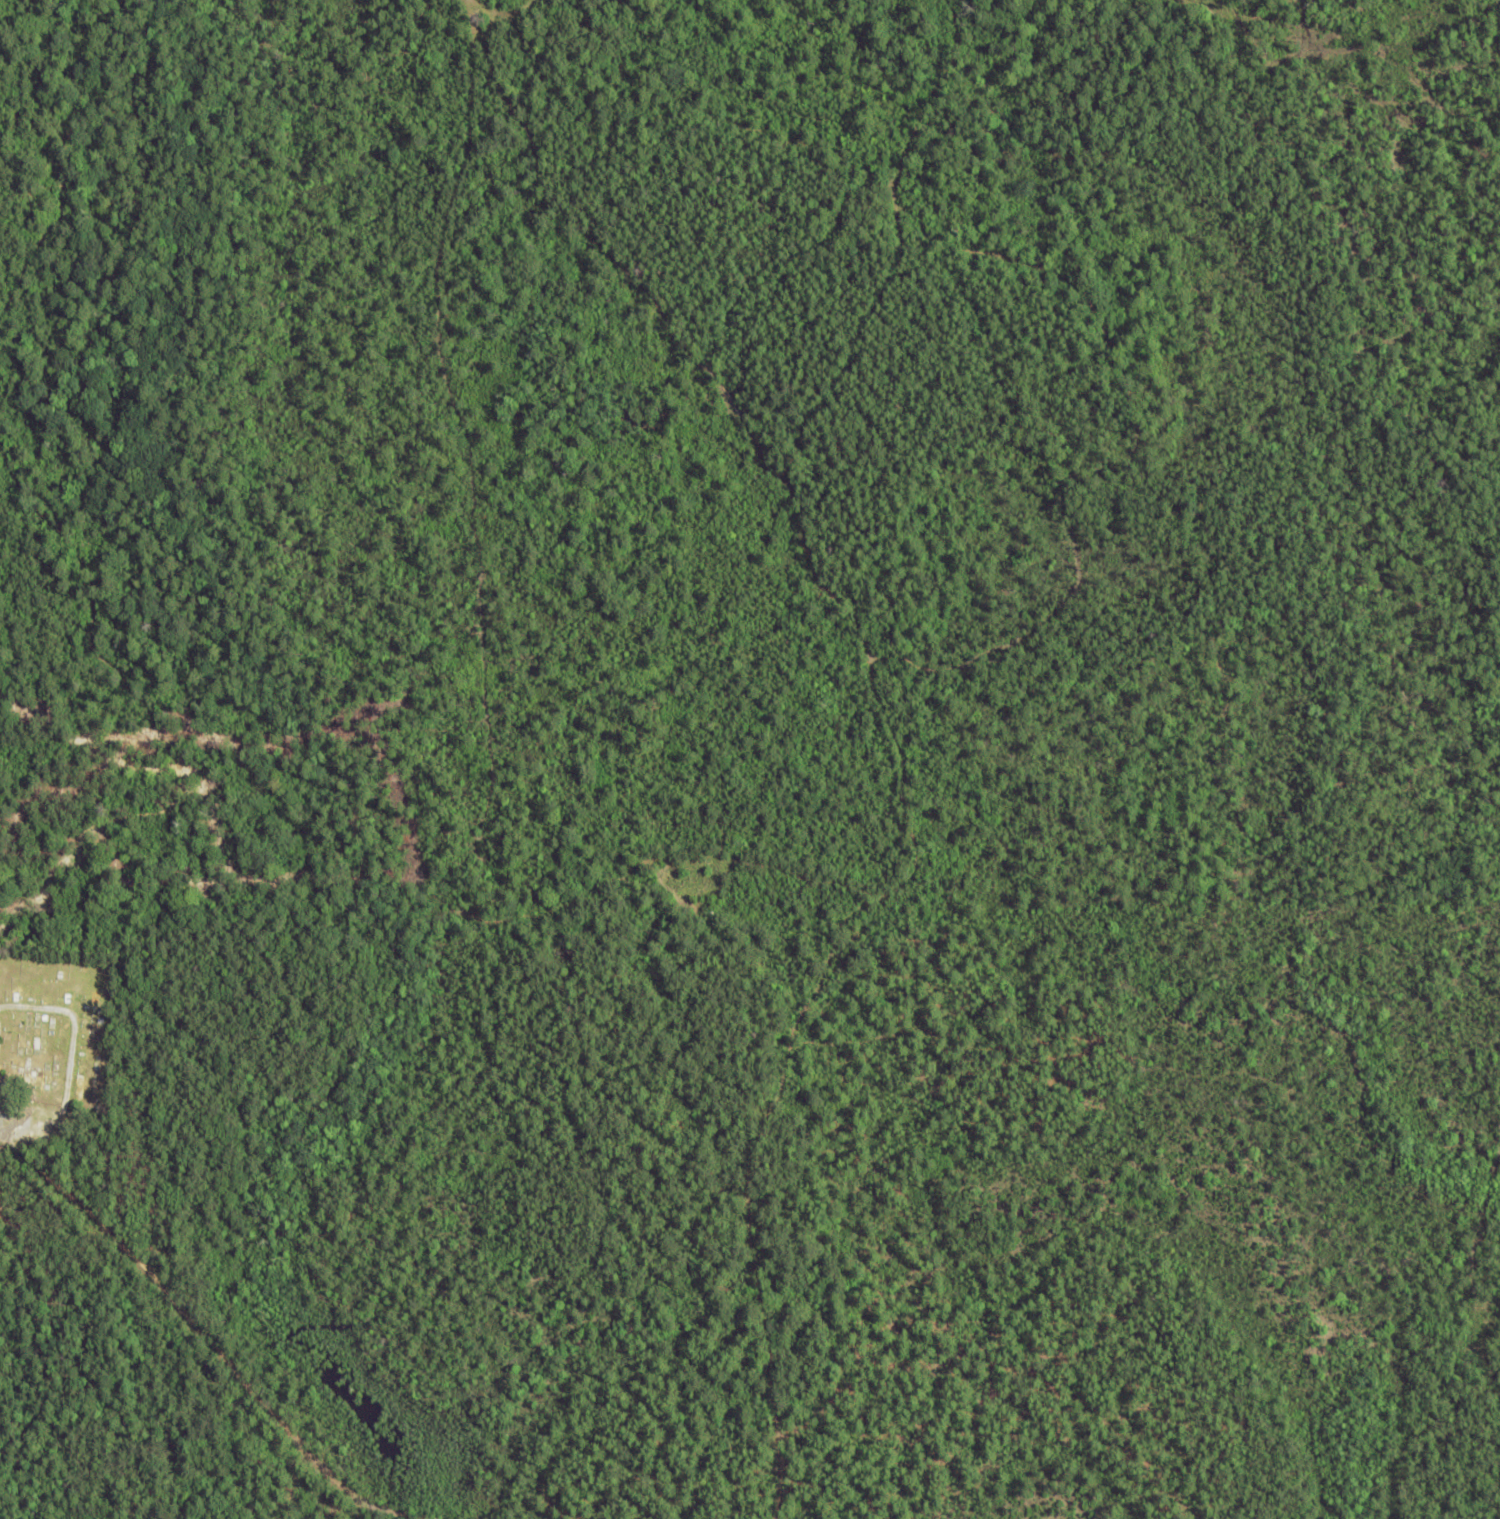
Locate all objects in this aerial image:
building: (116, 1058)
road: (5, 1137)
road: (213, 1344)

